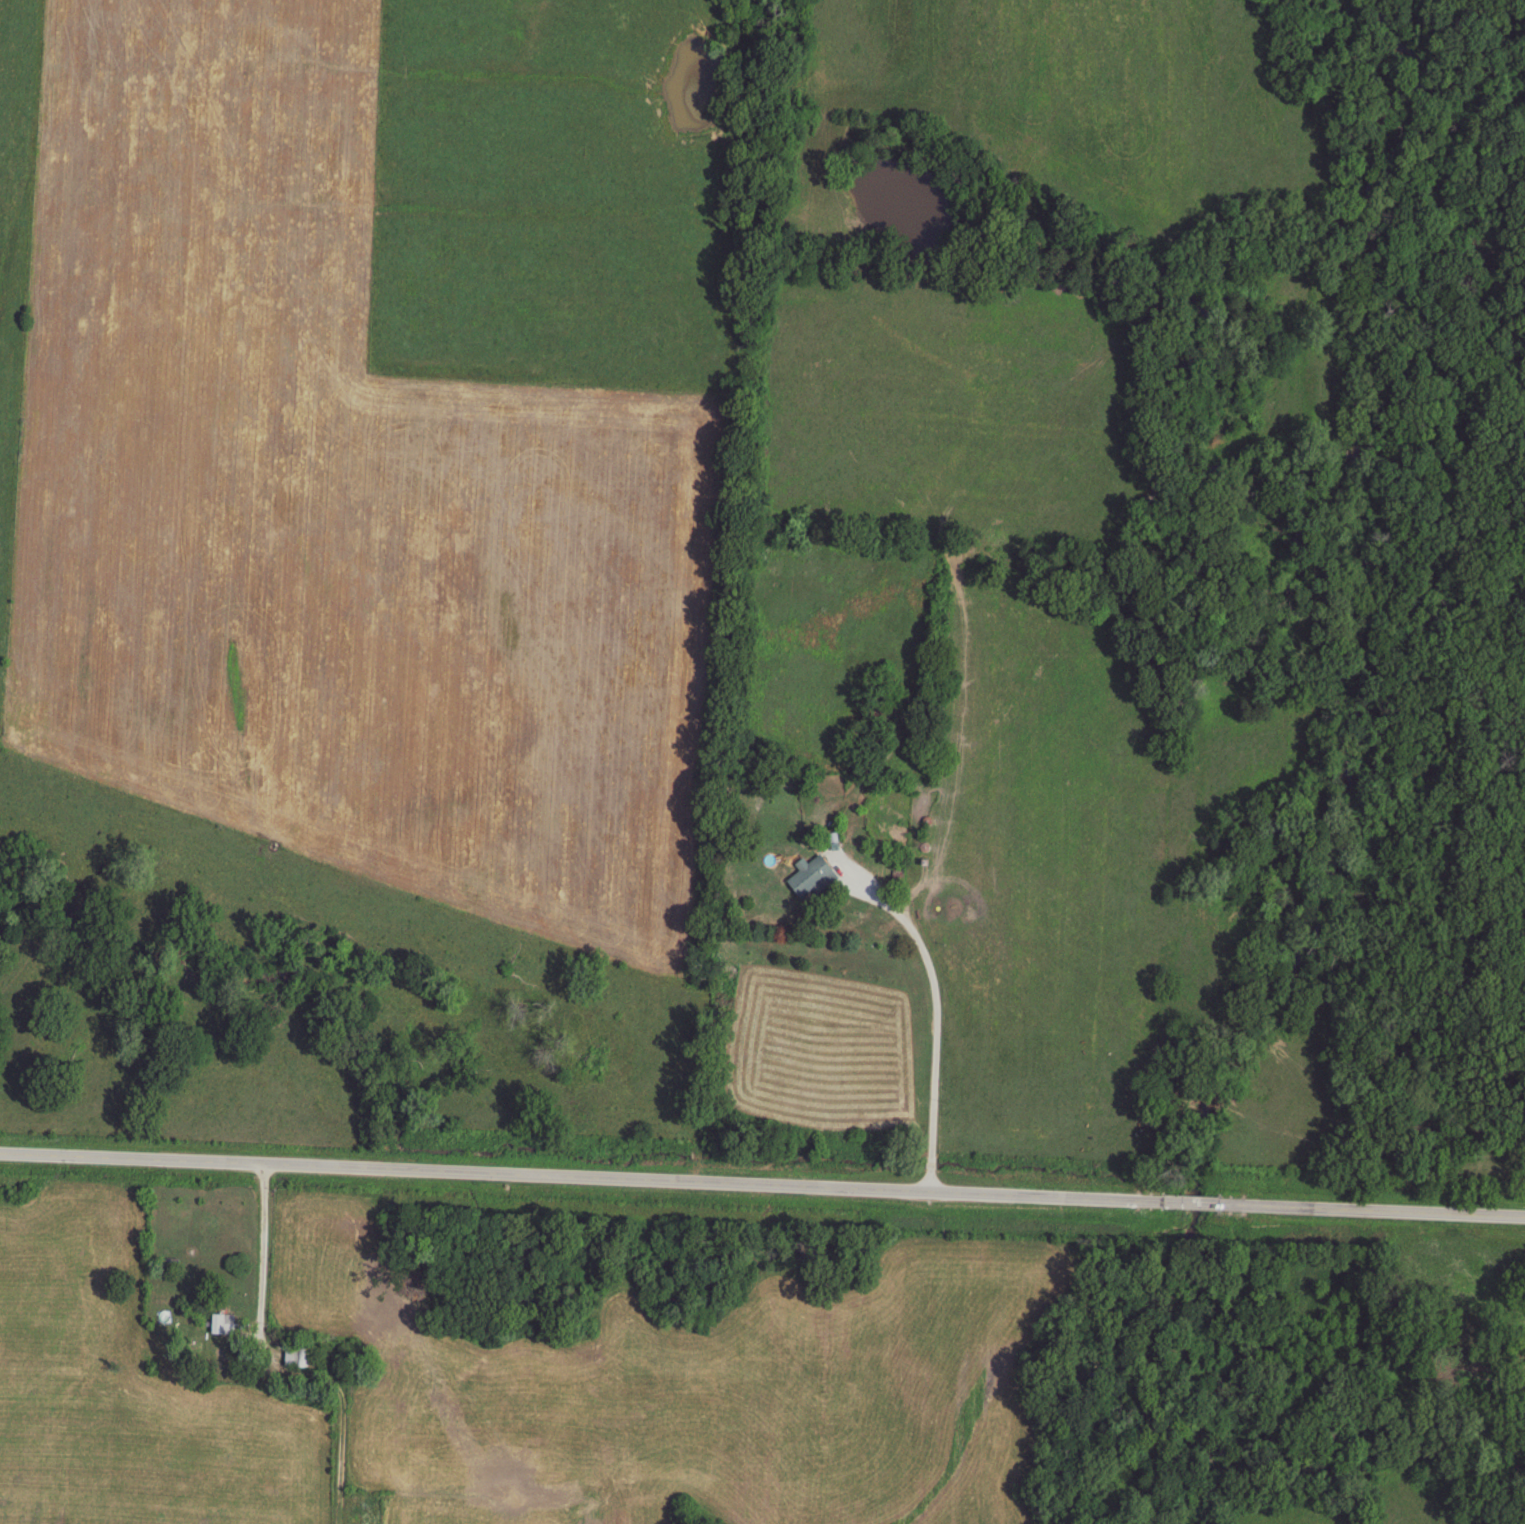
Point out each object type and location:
building: (811, 871)
road: (936, 1015)
road: (762, 1186)
road: (261, 1250)
building: (224, 1320)

